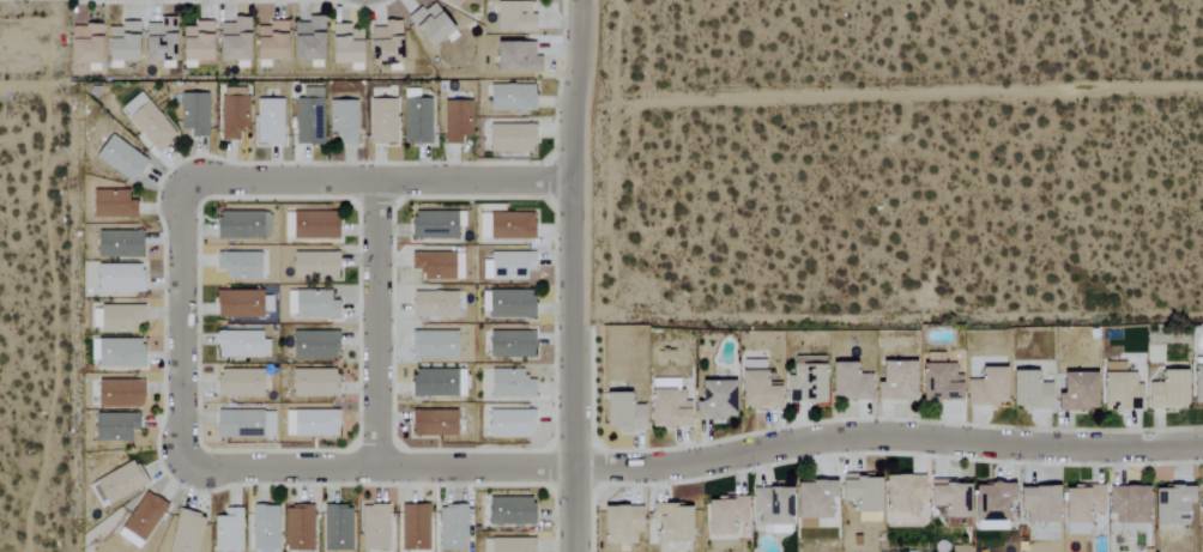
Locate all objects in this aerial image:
building: (451, 2)
building: (512, 17)
building: (428, 24)
building: (231, 40)
building: (307, 40)
building: (158, 41)
building: (120, 42)
building: (194, 42)
building: (268, 42)
building: (83, 43)
building: (385, 43)
building: (344, 44)
building: (514, 57)
building: (510, 97)
building: (232, 113)
building: (193, 114)
building: (308, 117)
building: (415, 119)
building: (146, 121)
building: (343, 121)
building: (381, 121)
building: (455, 121)
building: (268, 122)
building: (509, 138)
building: (119, 158)
road: (385, 184)
building: (111, 205)
building: (242, 225)
building: (313, 225)
building: (431, 225)
building: (509, 225)
building: (117, 244)
building: (237, 265)
building: (314, 265)
building: (437, 265)
building: (509, 265)
road: (580, 275)
building: (120, 278)
road: (71, 284)
building: (241, 304)
building: (431, 304)
building: (507, 304)
building: (314, 305)
building: (119, 319)
road: (189, 326)
road: (382, 327)
building: (240, 344)
building: (509, 344)
building: (313, 345)
building: (433, 345)
building: (116, 352)
building: (894, 381)
building: (313, 382)
building: (847, 382)
building: (238, 383)
building: (436, 383)
building: (509, 383)
building: (804, 383)
building: (938, 383)
building: (1196, 384)
building: (986, 388)
building: (756, 392)
building: (1028, 392)
building: (1075, 392)
building: (1119, 392)
building: (1166, 392)
building: (119, 394)
building: (713, 401)
building: (666, 408)
building: (621, 413)
building: (312, 423)
building: (433, 423)
building: (244, 424)
building: (509, 424)
building: (114, 426)
road: (696, 466)
building: (119, 483)
building: (859, 492)
building: (1201, 497)
building: (949, 498)
building: (811, 499)
building: (903, 499)
building: (991, 503)
building: (1038, 504)
building: (1128, 504)
building: (1169, 504)
building: (1080, 508)
building: (770, 509)
building: (509, 511)
building: (724, 515)
building: (141, 517)
building: (619, 524)
building: (670, 524)
building: (335, 527)
building: (374, 527)
building: (265, 528)
building: (298, 528)
building: (413, 528)
building: (452, 528)
building: (226, 532)
building: (186, 533)
building: (510, 545)
building: (328, 551)

